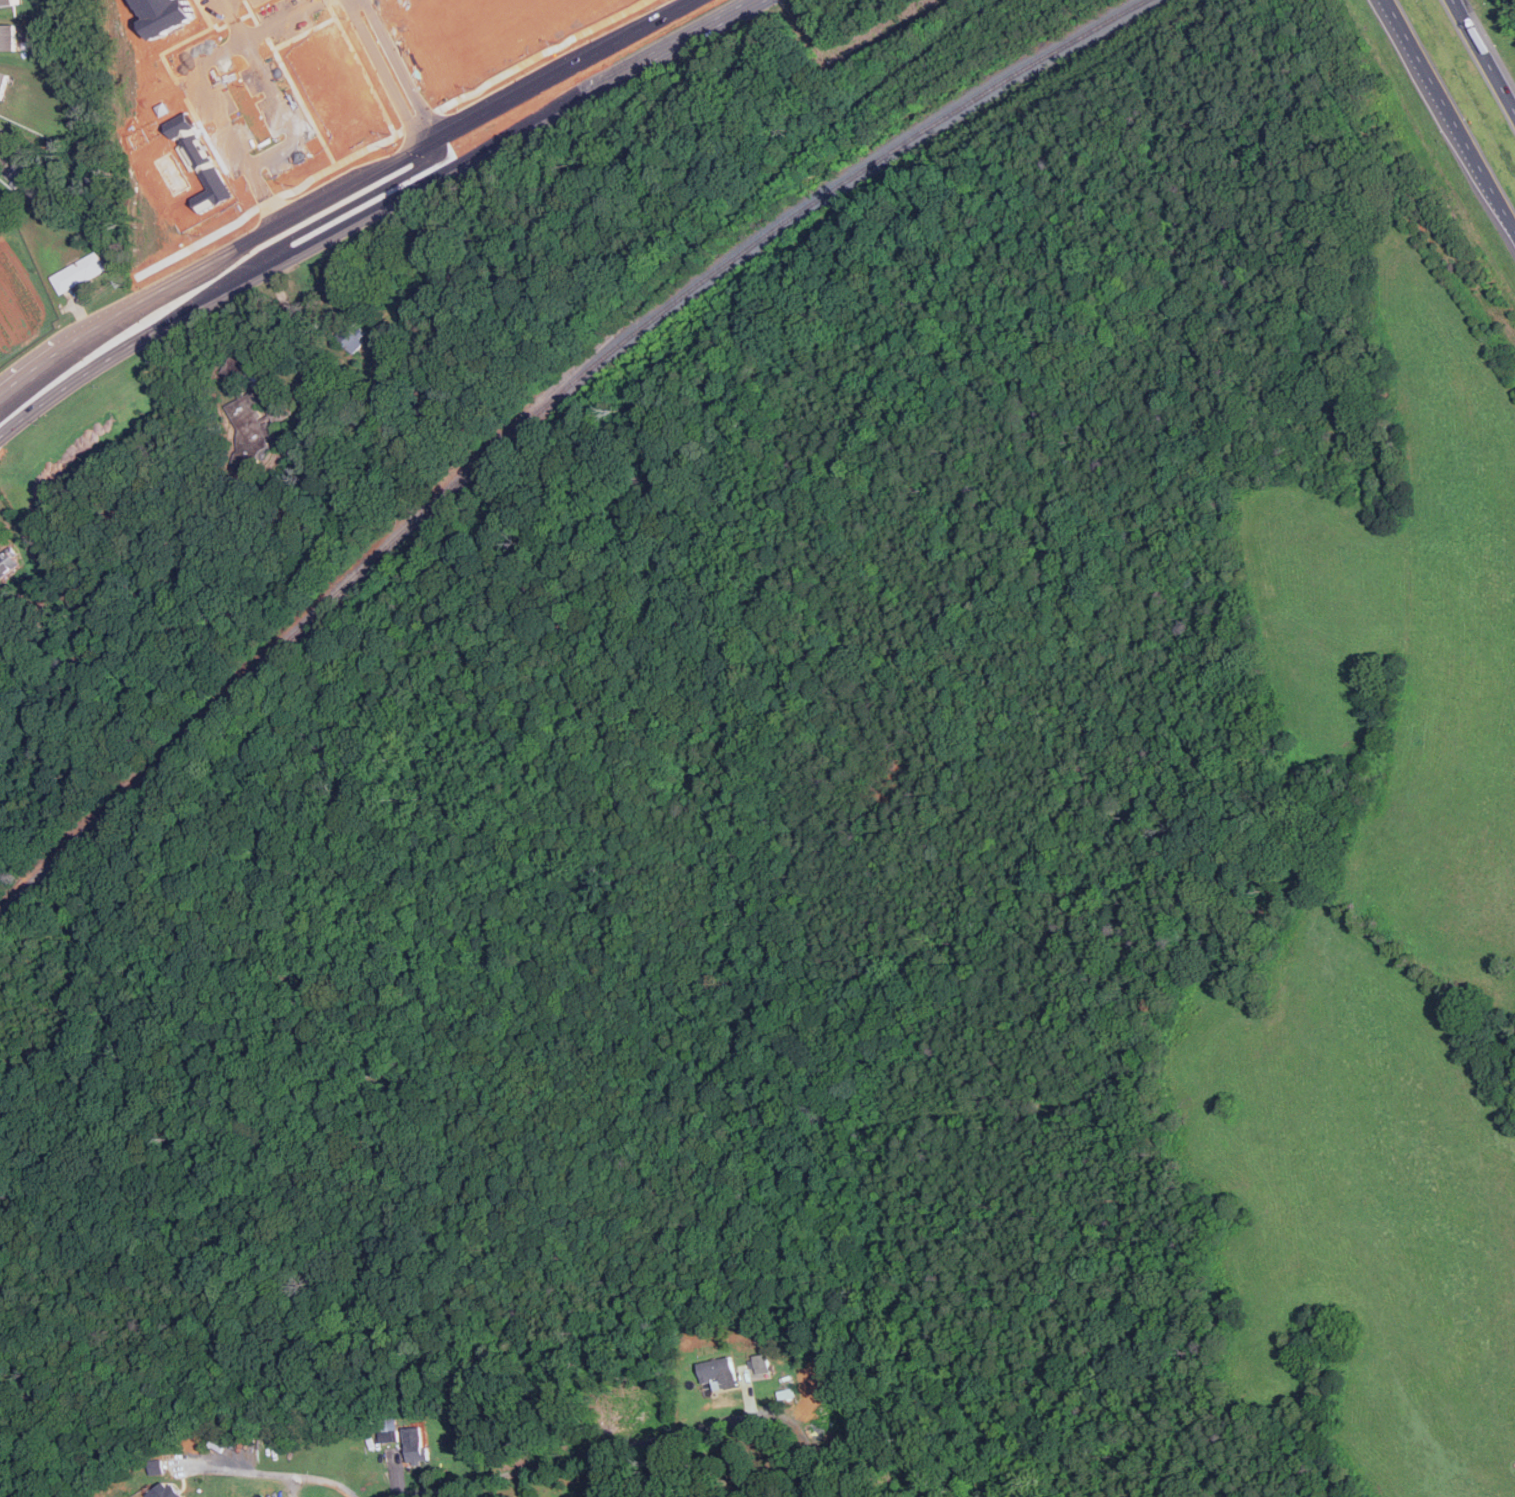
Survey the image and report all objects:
road: (230, 1)
building: (6, 2)
road: (1454, 4)
road: (238, 19)
building: (8, 36)
road: (1486, 61)
road: (651, 62)
building: (3, 84)
road: (212, 84)
road: (1444, 104)
road: (291, 114)
building: (1, 128)
road: (432, 137)
traffic signals: (436, 140)
road: (342, 190)
road: (1508, 220)
road: (263, 272)
building: (78, 273)
building: (350, 339)
road: (312, 361)
road: (280, 364)
railway: (537, 414)
building: (254, 422)
building: (7, 562)
building: (759, 1366)
building: (719, 1371)
road: (639, 1443)
building: (415, 1450)
building: (157, 1466)
road: (267, 1474)
building: (168, 1493)

